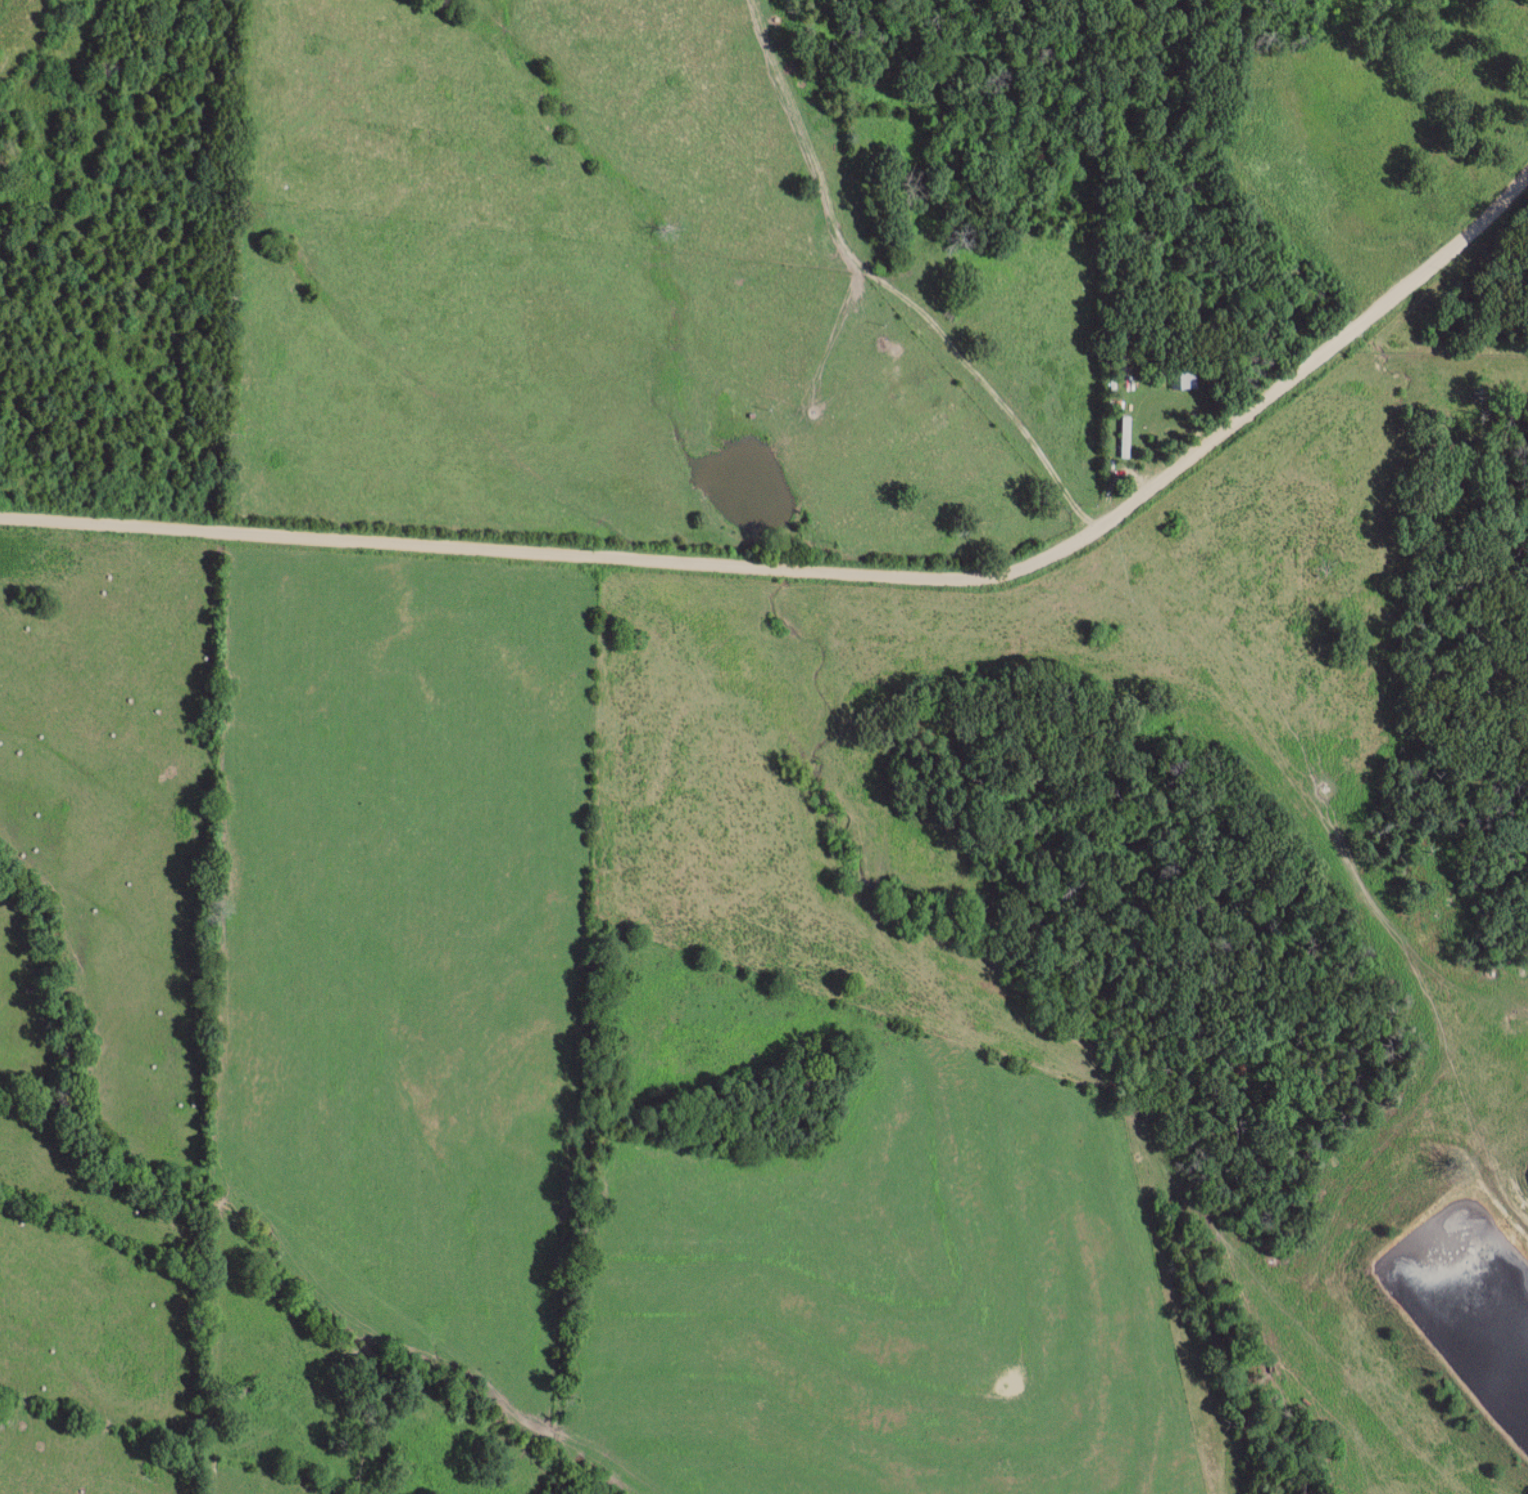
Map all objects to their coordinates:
road: (831, 571)

